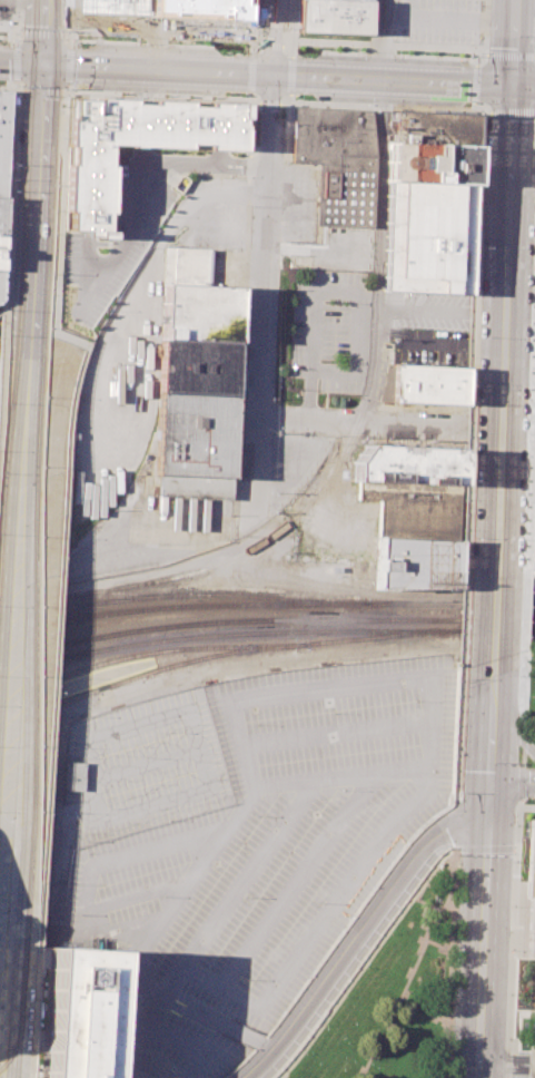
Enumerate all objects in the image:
road: (22, 4)
parking lot: (7, 9)
building: (164, 9)
road: (67, 14)
building: (334, 16)
road: (17, 20)
parking lot: (436, 20)
road: (252, 22)
railway: (33, 31)
road: (42, 31)
railway: (56, 31)
road: (159, 33)
road: (387, 40)
road: (513, 41)
road: (142, 42)
road: (290, 42)
road: (390, 43)
road: (270, 45)
street lamp: (358, 50)
street lamp: (478, 52)
road: (392, 55)
road: (480, 55)
road: (507, 55)
road: (14, 57)
street lamp: (473, 57)
road: (65, 60)
road: (20, 61)
traffic signals: (41, 62)
road: (248, 72)
road: (276, 73)
road: (288, 73)
road: (475, 84)
traffic signals: (513, 85)
road: (524, 85)
road: (7, 86)
road: (39, 90)
road: (156, 96)
street lamp: (299, 100)
road: (267, 101)
street lamp: (366, 104)
road: (383, 106)
road: (506, 111)
street lamp: (487, 115)
building: (432, 131)
building: (3, 137)
building: (339, 160)
building: (429, 167)
building: (88, 193)
road: (9, 199)
railway: (23, 209)
road: (33, 212)
railway: (48, 212)
building: (2, 215)
parking lot: (130, 225)
building: (427, 235)
road: (505, 245)
street lamp: (533, 247)
street lamp: (474, 248)
street lamp: (478, 249)
building: (1, 251)
road: (474, 256)
road: (261, 261)
building: (186, 266)
building: (0, 284)
road: (330, 293)
building: (198, 311)
parking lot: (330, 330)
road: (1, 334)
street lamp: (475, 336)
parking lot: (428, 345)
road: (533, 354)
building: (200, 366)
building: (427, 384)
building: (534, 394)
street lamp: (472, 404)
street lamp: (526, 406)
railway: (6, 414)
road: (379, 422)
road: (518, 429)
building: (194, 445)
railway: (345, 449)
building: (407, 464)
building: (414, 509)
building: (532, 526)
road: (525, 528)
road: (496, 533)
road: (464, 536)
street lamp: (521, 541)
street lamp: (467, 542)
railway: (30, 550)
road: (18, 556)
building: (416, 563)
railway: (184, 594)
railway: (110, 595)
railway: (26, 601)
railway: (266, 604)
railway: (266, 619)
railway: (503, 630)
railway: (232, 634)
railway: (388, 635)
railway: (150, 651)
railway: (155, 663)
railway: (151, 670)
street lamp: (515, 676)
street lamp: (463, 678)
road: (385, 682)
road: (519, 689)
road: (489, 726)
road: (511, 727)
road: (339, 732)
road: (457, 734)
road: (522, 739)
road: (521, 758)
street lamp: (516, 763)
building: (73, 775)
street lamp: (454, 782)
road: (521, 783)
road: (286, 785)
road: (512, 790)
traffic signals: (488, 793)
road: (518, 802)
road: (450, 823)
street lamp: (514, 824)
road: (2, 826)
road: (3, 829)
parking lot: (239, 843)
road: (444, 846)
road: (514, 847)
road: (484, 849)
street lamp: (513, 861)
building: (532, 861)
road: (98, 865)
street lamp: (456, 866)
road: (299, 879)
railway: (23, 881)
road: (137, 898)
street lamp: (413, 900)
road: (424, 903)
street lamp: (511, 905)
street lamp: (455, 906)
road: (323, 921)
street lamp: (423, 929)
road: (363, 931)
road: (513, 933)
street lamp: (388, 934)
road: (483, 934)
road: (435, 947)
street lamp: (453, 947)
street lamp: (434, 949)
street lamp: (509, 950)
street lamp: (413, 951)
road: (363, 959)
road: (447, 961)
road: (449, 962)
building: (534, 962)
street lamp: (363, 968)
road: (403, 984)
street lamp: (407, 991)
road: (149, 992)
street lamp: (450, 992)
street lamp: (508, 994)
street lamp: (343, 996)
road: (190, 1002)
street lamp: (430, 1002)
park: (392, 1004)
road: (186, 1011)
building: (75, 1013)
street lamp: (321, 1023)
road: (242, 1035)
street lamp: (449, 1035)
street lamp: (506, 1038)
road: (182, 1039)
railway: (11, 1043)
railway: (13, 1049)
road: (129, 1051)
street lamp: (300, 1052)
street lamp: (373, 1058)
street lamp: (281, 1077)

